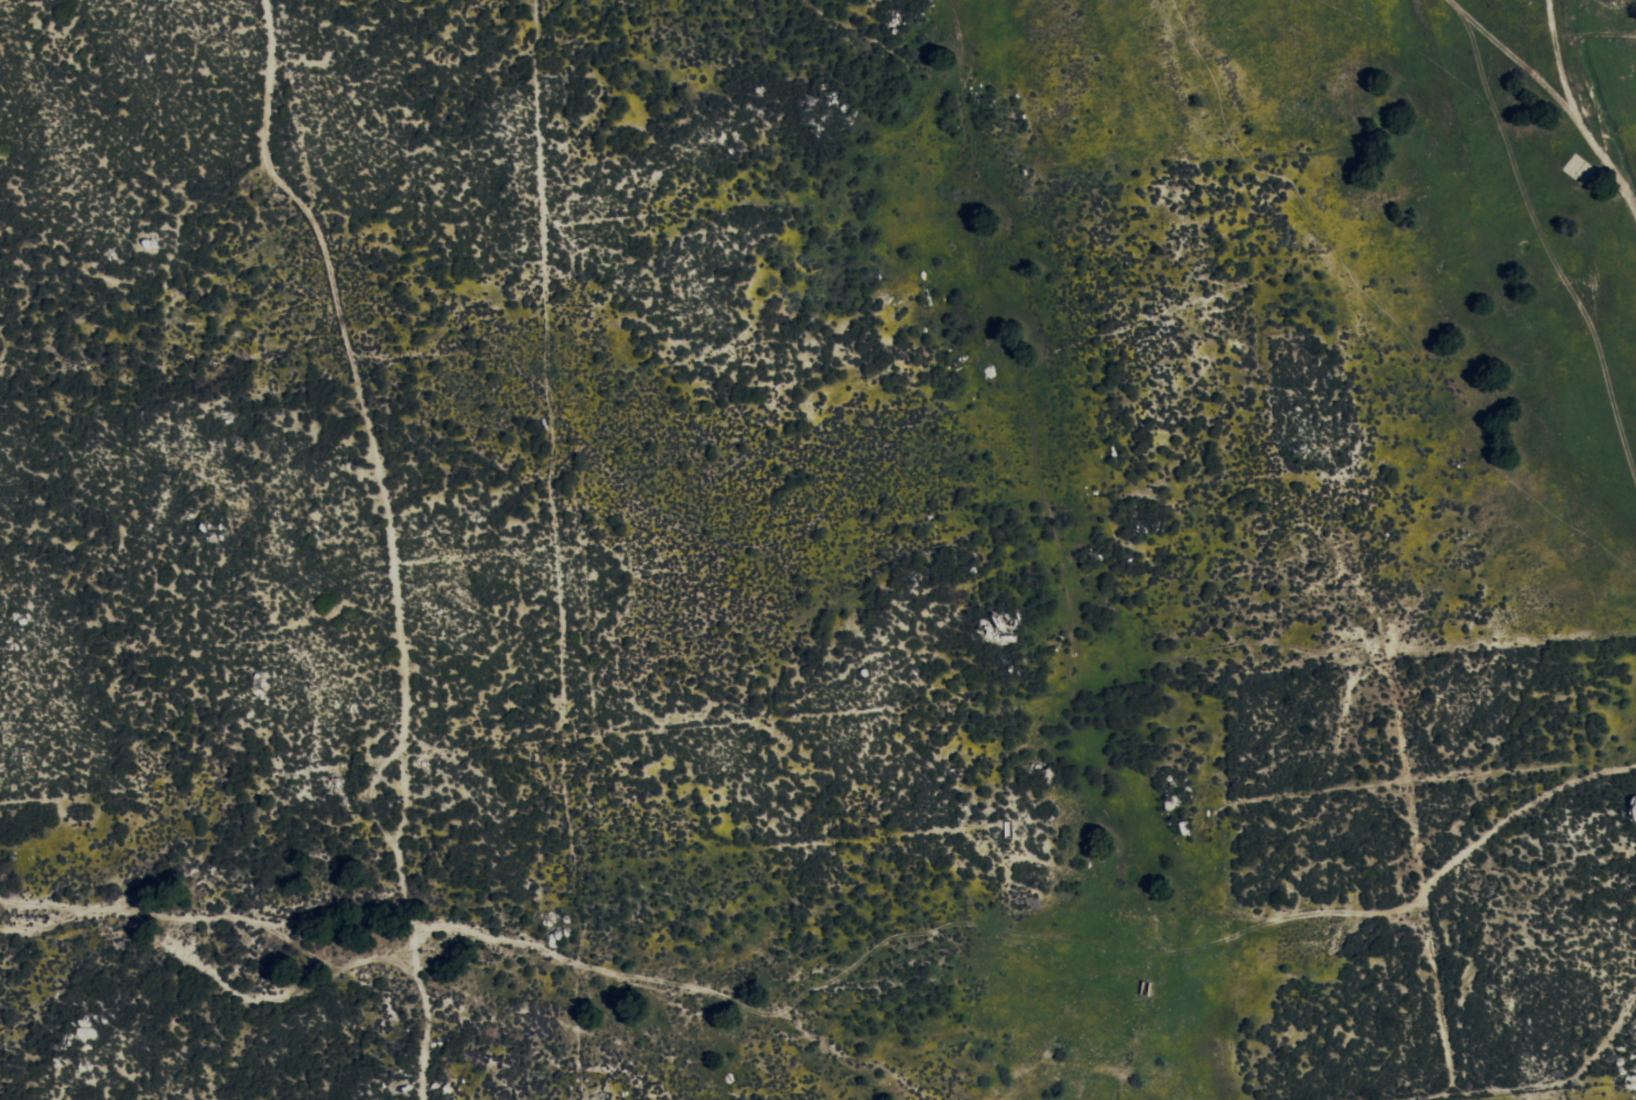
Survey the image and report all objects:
road: (1554, 42)

